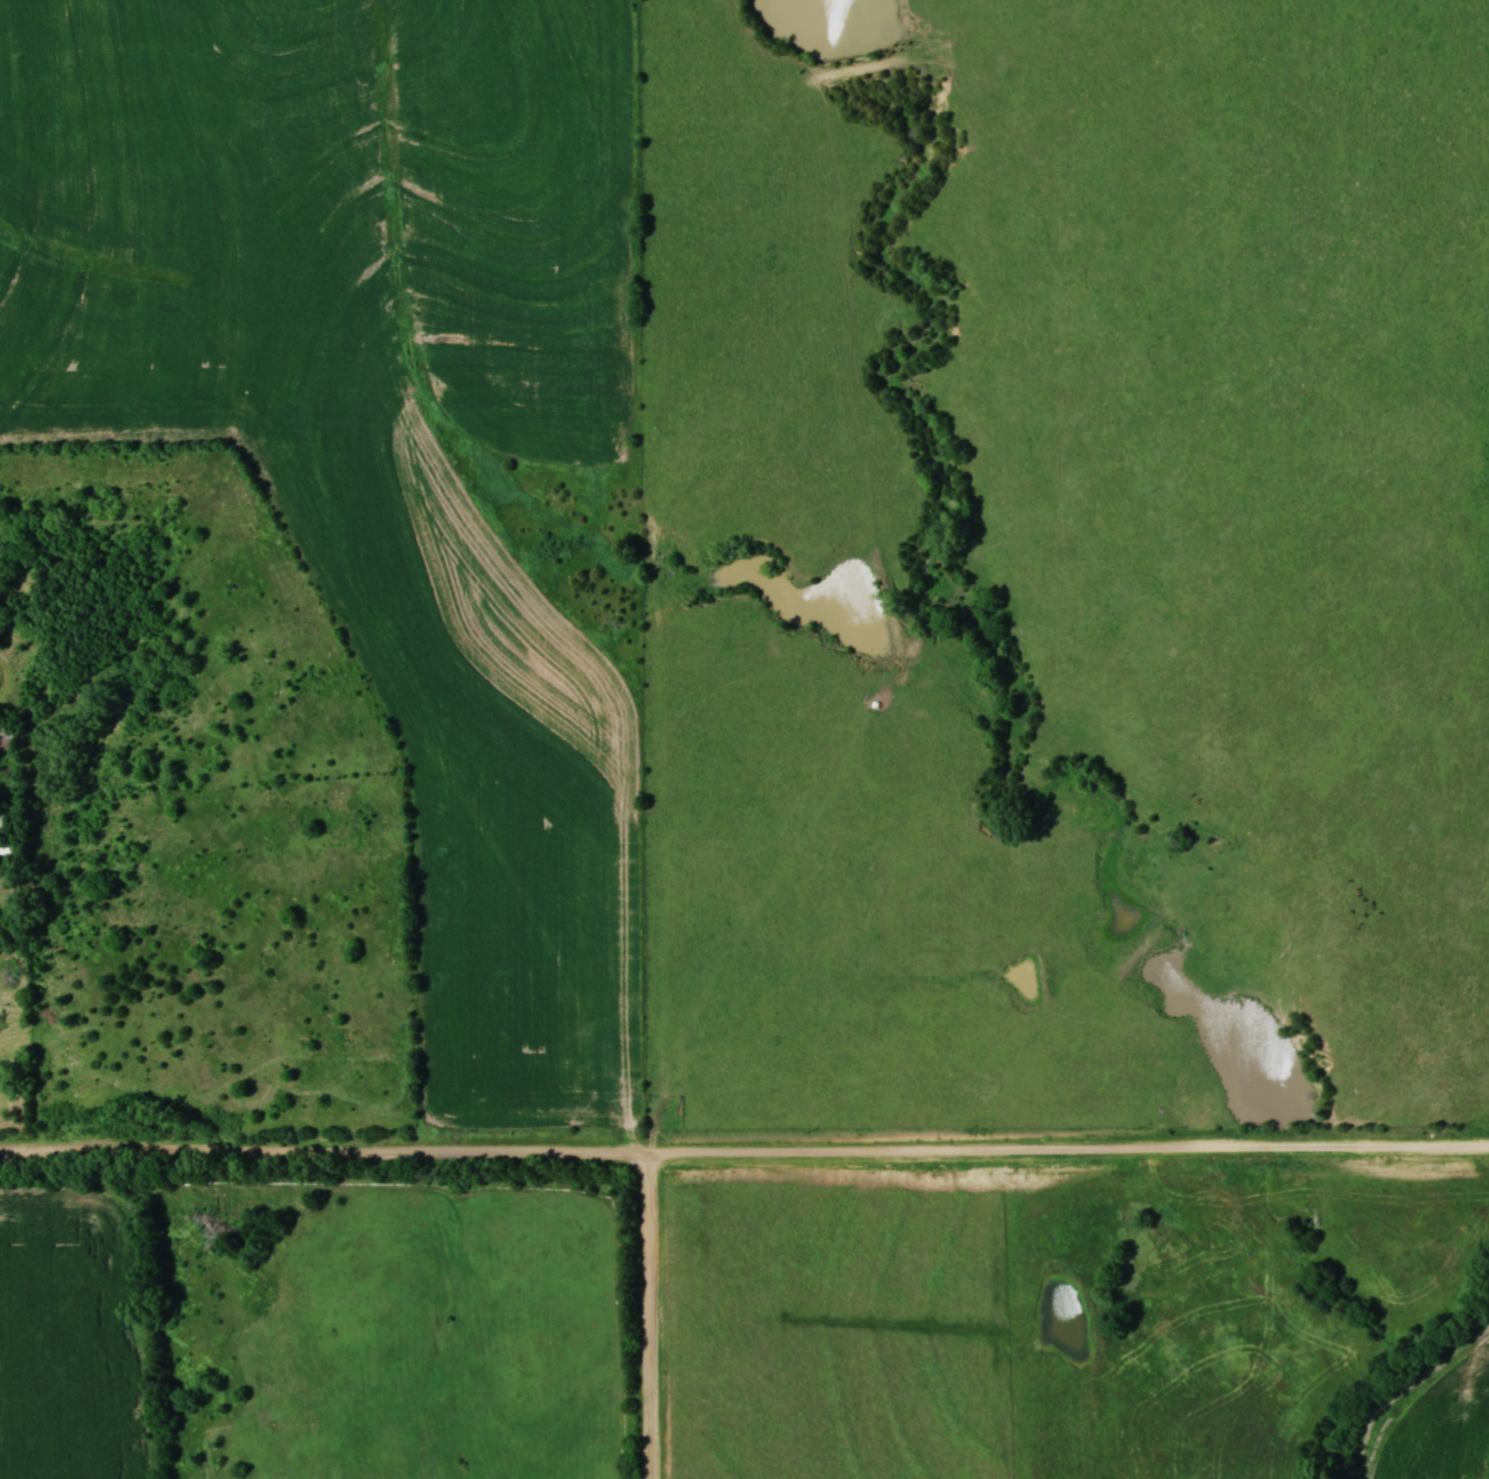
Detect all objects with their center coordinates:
building: (6, 731)
building: (4, 824)
road: (744, 1152)
road: (655, 1315)
crop: (69, 1343)

